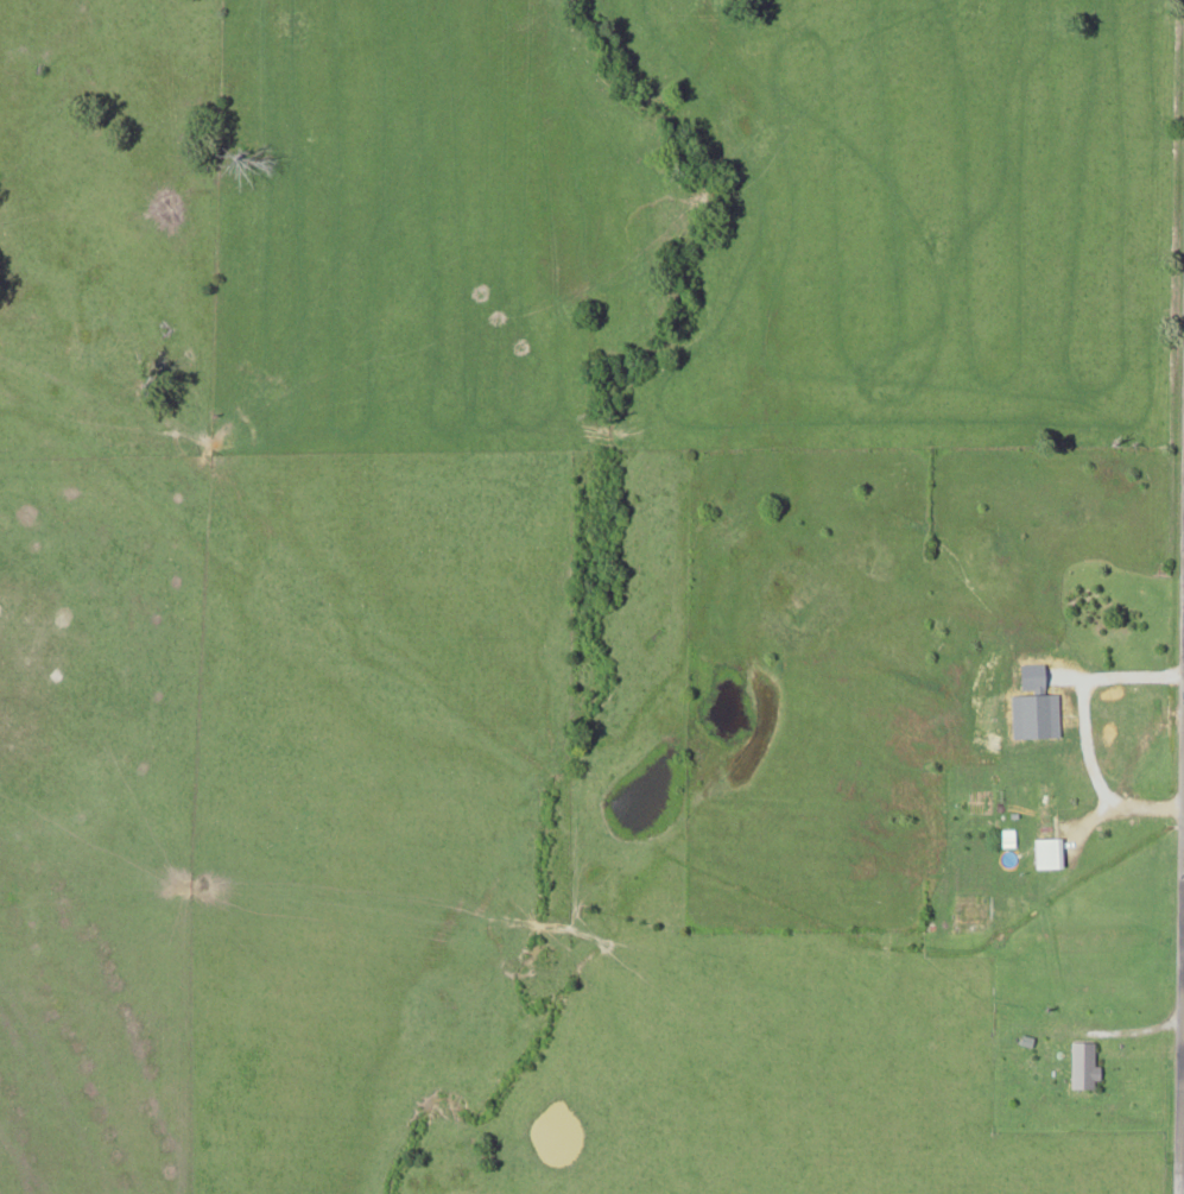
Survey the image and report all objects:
building: (1078, 763)
building: (931, 775)
building: (900, 795)
building: (1047, 840)
building: (971, 910)
building: (1084, 1057)

